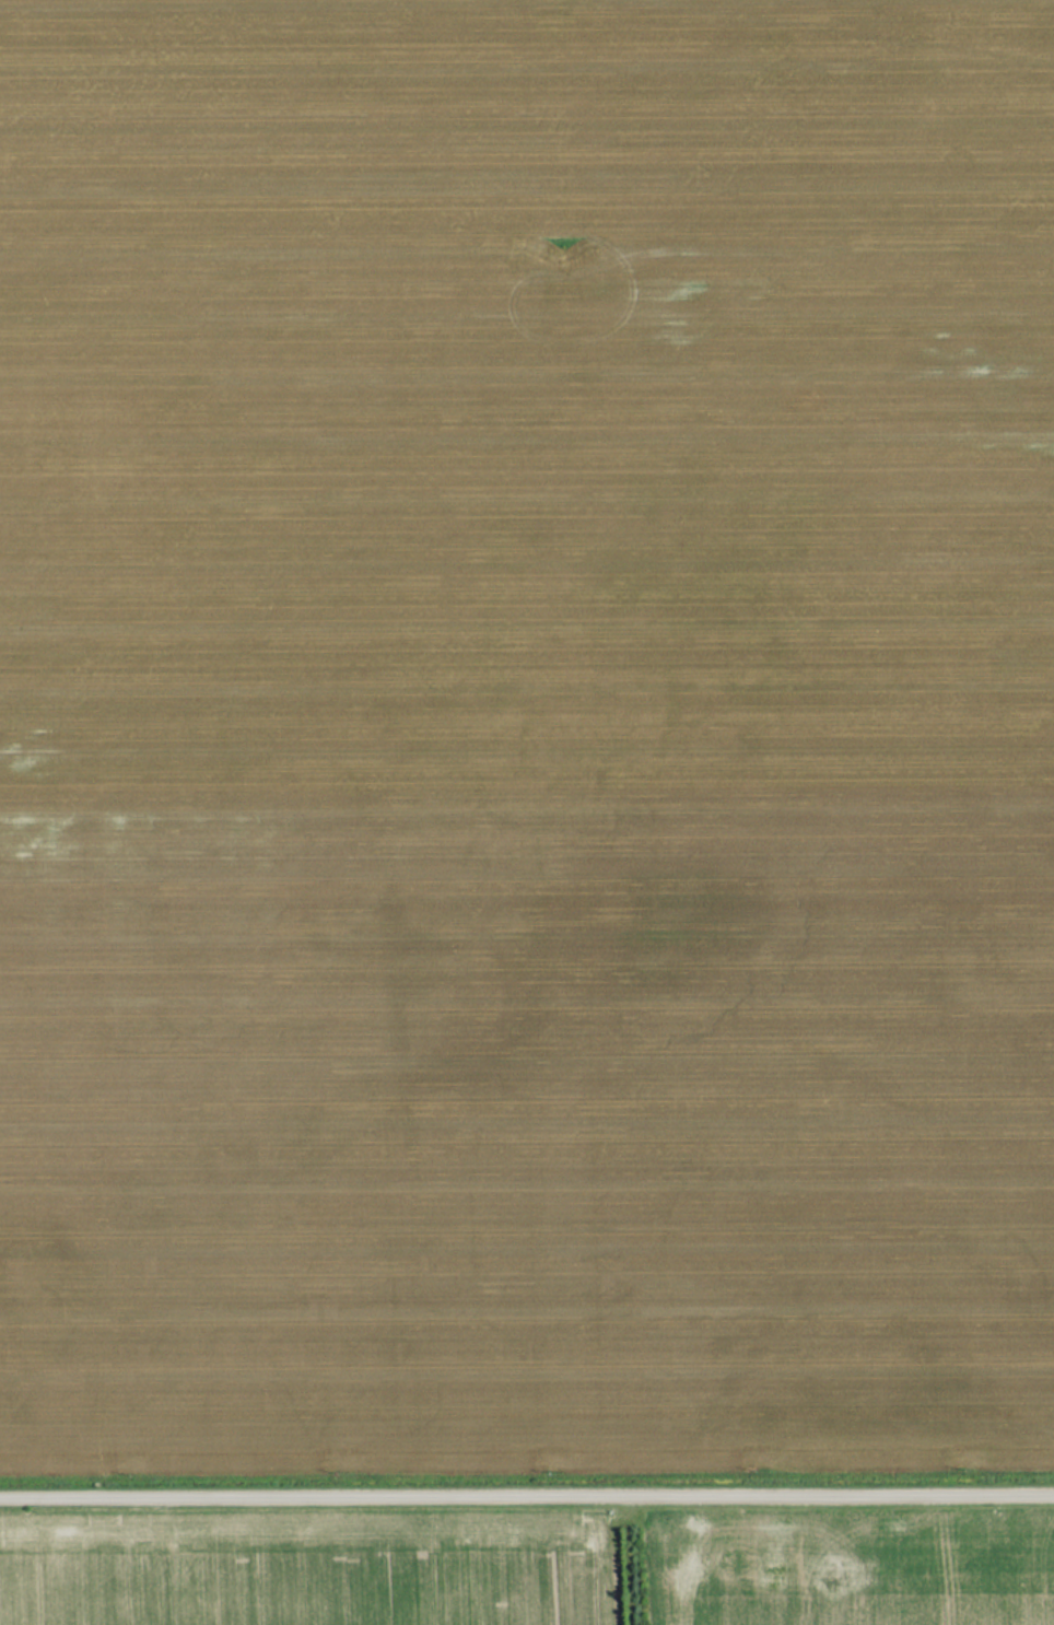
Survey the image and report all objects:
crop: (526, 735)
road: (527, 1488)
crop: (850, 1567)
crop: (308, 1570)

